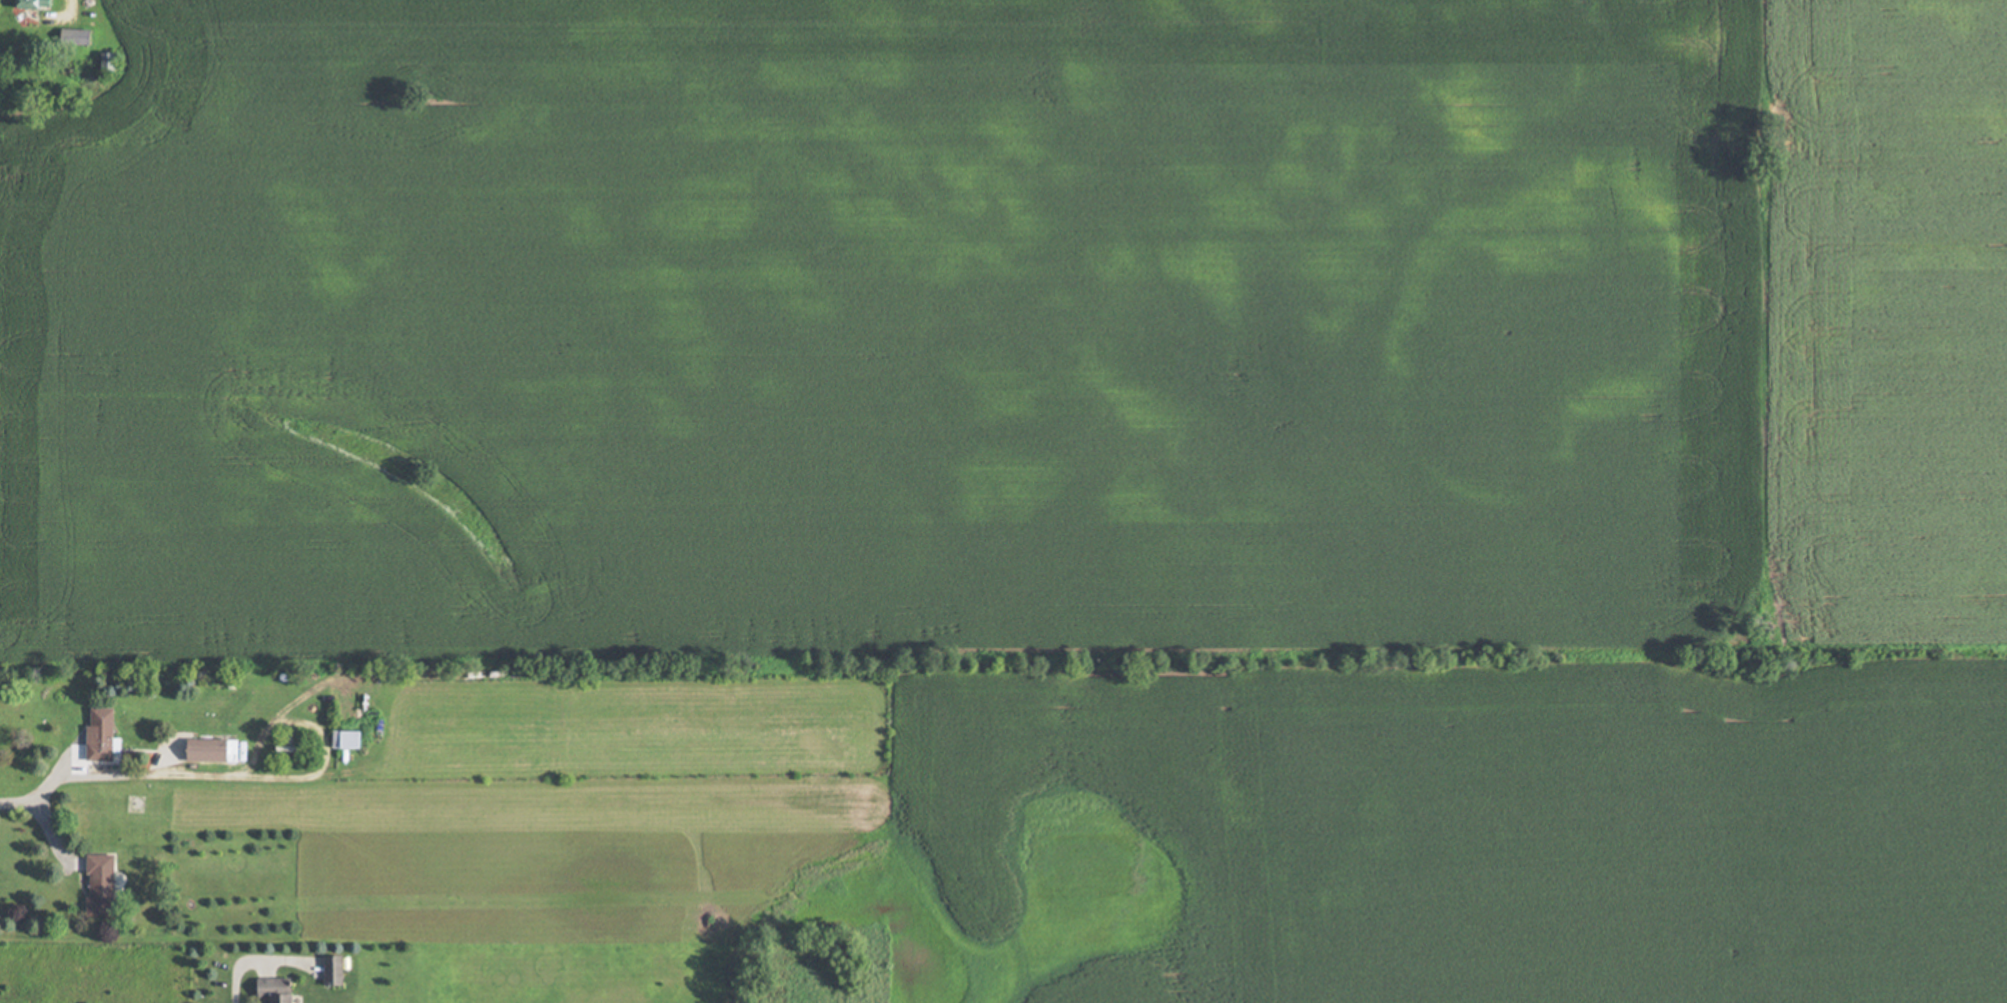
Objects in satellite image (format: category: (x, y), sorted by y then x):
building: (37, 4)
road: (326, 728)
building: (104, 734)
building: (348, 740)
building: (214, 750)
road: (116, 775)
building: (104, 885)
building: (336, 970)
road: (234, 975)
building: (280, 990)

